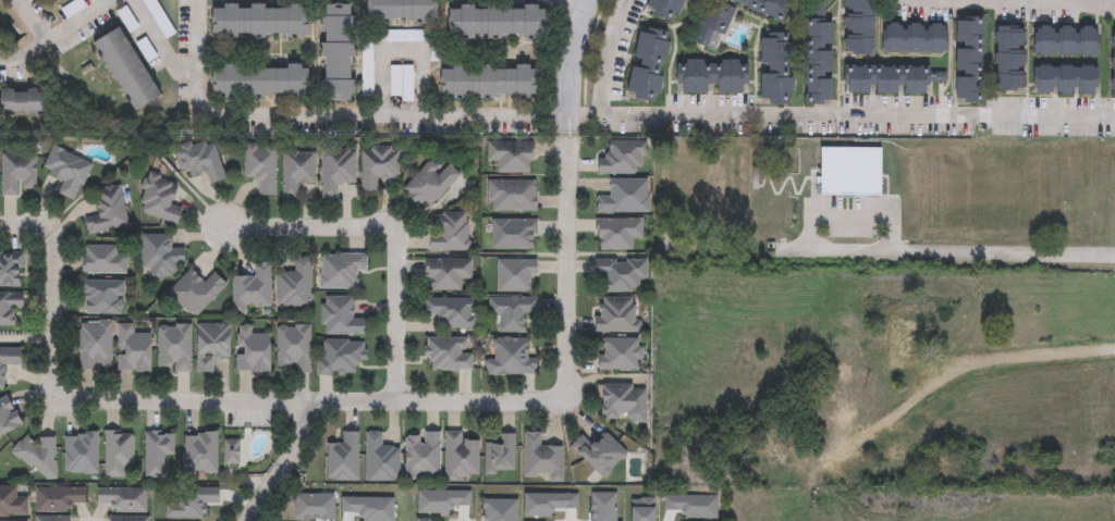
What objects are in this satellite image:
road: (1054, 2)
road: (573, 4)
building: (664, 7)
building: (769, 8)
building: (401, 10)
building: (159, 17)
road: (34, 20)
building: (257, 20)
building: (495, 22)
building: (712, 23)
building: (859, 26)
road: (57, 34)
building: (412, 36)
building: (916, 36)
building: (1067, 38)
road: (161, 44)
road: (401, 49)
building: (335, 51)
building: (1009, 55)
road: (610, 57)
road: (573, 58)
building: (969, 59)
building: (818, 61)
building: (648, 62)
building: (1113, 63)
building: (776, 66)
building: (128, 70)
building: (368, 71)
building: (711, 75)
building: (891, 77)
building: (1068, 77)
building: (258, 79)
building: (486, 80)
building: (402, 83)
building: (22, 101)
road: (329, 114)
road: (842, 116)
road: (568, 133)
building: (513, 157)
building: (623, 159)
building: (201, 161)
building: (378, 165)
building: (262, 166)
building: (69, 171)
building: (297, 171)
building: (338, 171)
building: (853, 171)
building: (20, 172)
building: (431, 184)
building: (514, 196)
building: (625, 198)
building: (161, 199)
building: (109, 211)
road: (395, 232)
building: (451, 232)
building: (618, 233)
building: (515, 234)
road: (963, 249)
building: (160, 256)
building: (105, 260)
building: (11, 271)
building: (342, 271)
building: (449, 274)
building: (623, 275)
building: (517, 276)
building: (295, 285)
building: (254, 289)
building: (197, 291)
building: (105, 298)
building: (10, 308)
building: (452, 312)
building: (512, 312)
building: (616, 315)
building: (342, 318)
road: (28, 338)
building: (905, 343)
building: (96, 345)
building: (212, 345)
building: (175, 347)
building: (295, 348)
building: (134, 349)
building: (255, 349)
building: (450, 355)
building: (618, 355)
building: (341, 357)
building: (512, 357)
building: (9, 361)
road: (966, 371)
building: (846, 376)
road: (553, 397)
road: (70, 400)
building: (624, 404)
building: (848, 415)
building: (9, 417)
building: (232, 451)
building: (81, 452)
building: (159, 452)
building: (201, 452)
building: (601, 452)
building: (782, 452)
building: (35, 455)
building: (120, 455)
building: (424, 456)
building: (501, 456)
building: (462, 457)
building: (543, 458)
building: (344, 459)
building: (382, 459)
road: (284, 466)
building: (935, 466)
building: (124, 498)
building: (60, 499)
building: (13, 501)
building: (191, 503)
building: (53, 518)
building: (131, 518)
building: (430, 520)

